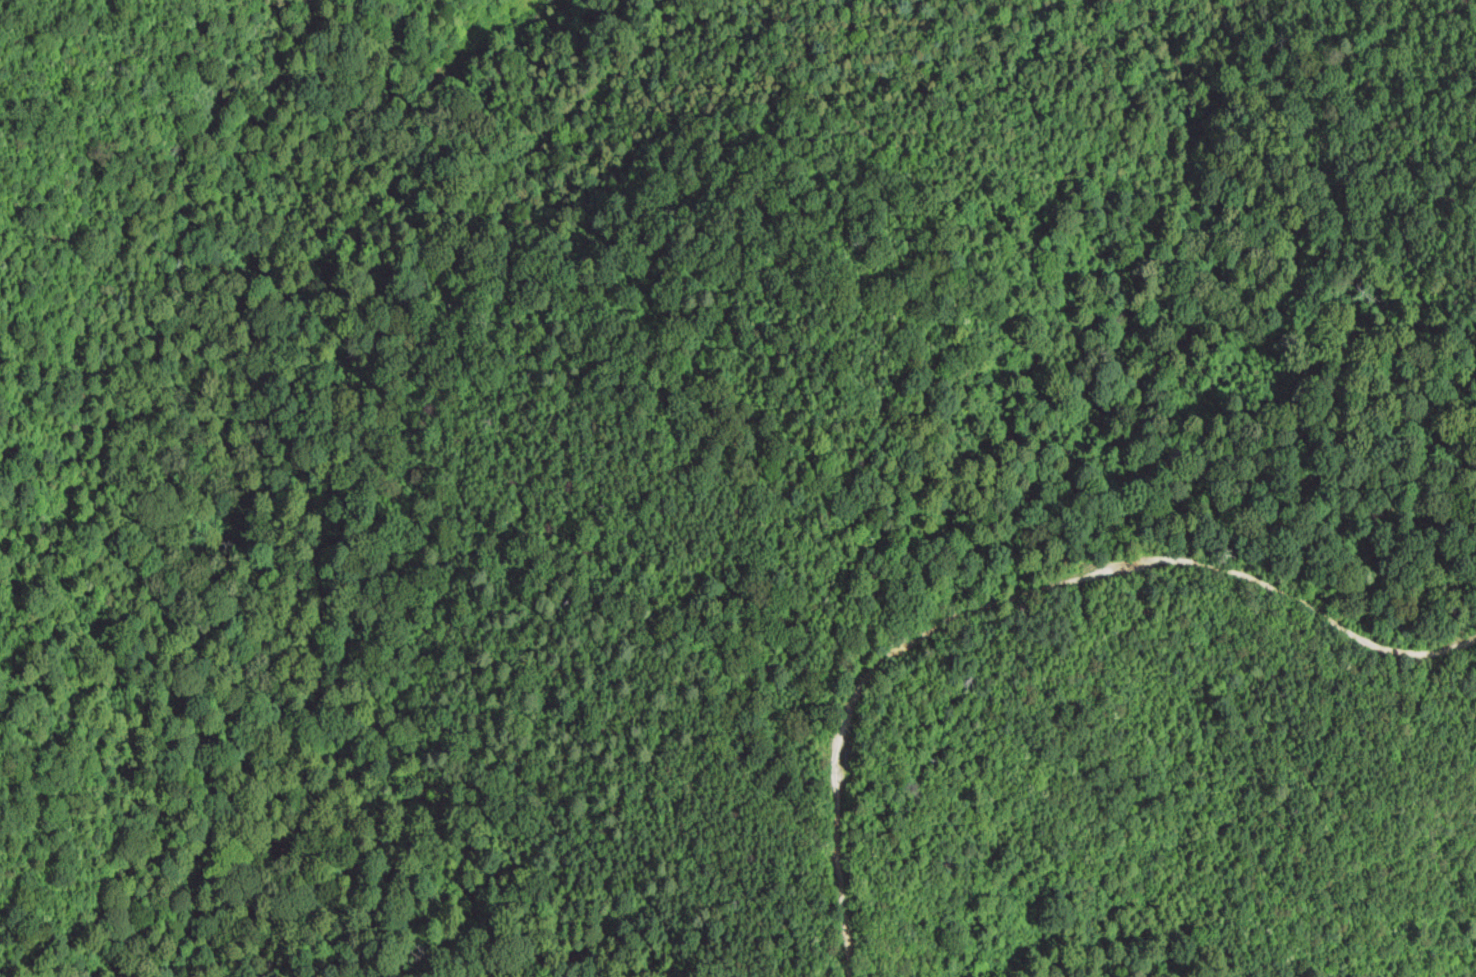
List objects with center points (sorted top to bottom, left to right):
road: (1022, 597)

